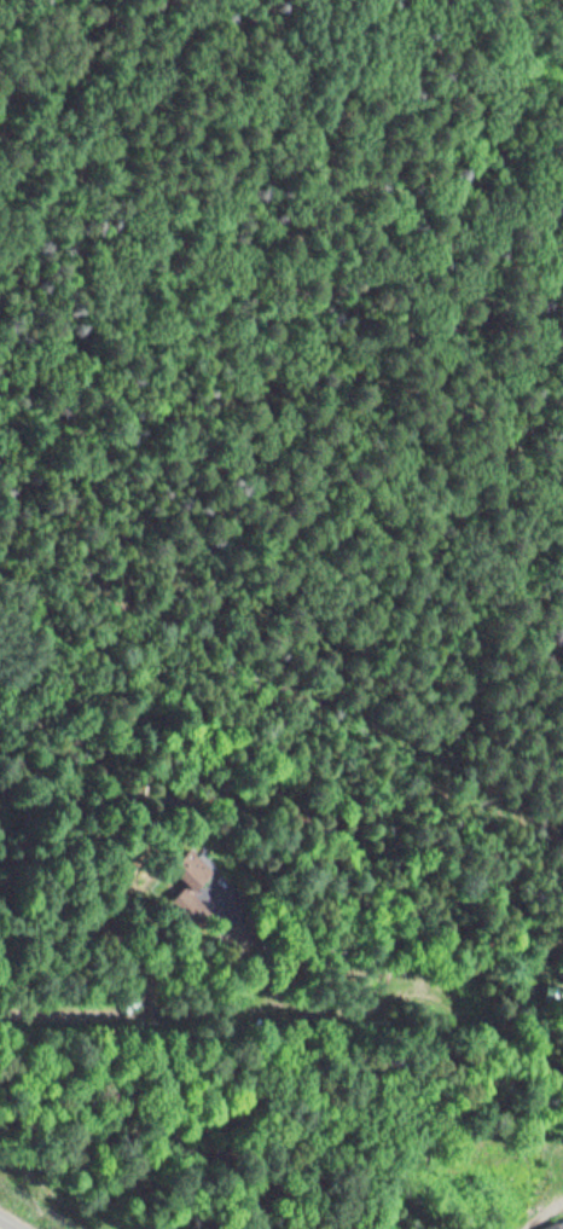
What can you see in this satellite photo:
building: (190, 871)
road: (124, 1010)
road: (541, 1213)
road: (5, 1225)
building: (559, 1225)

